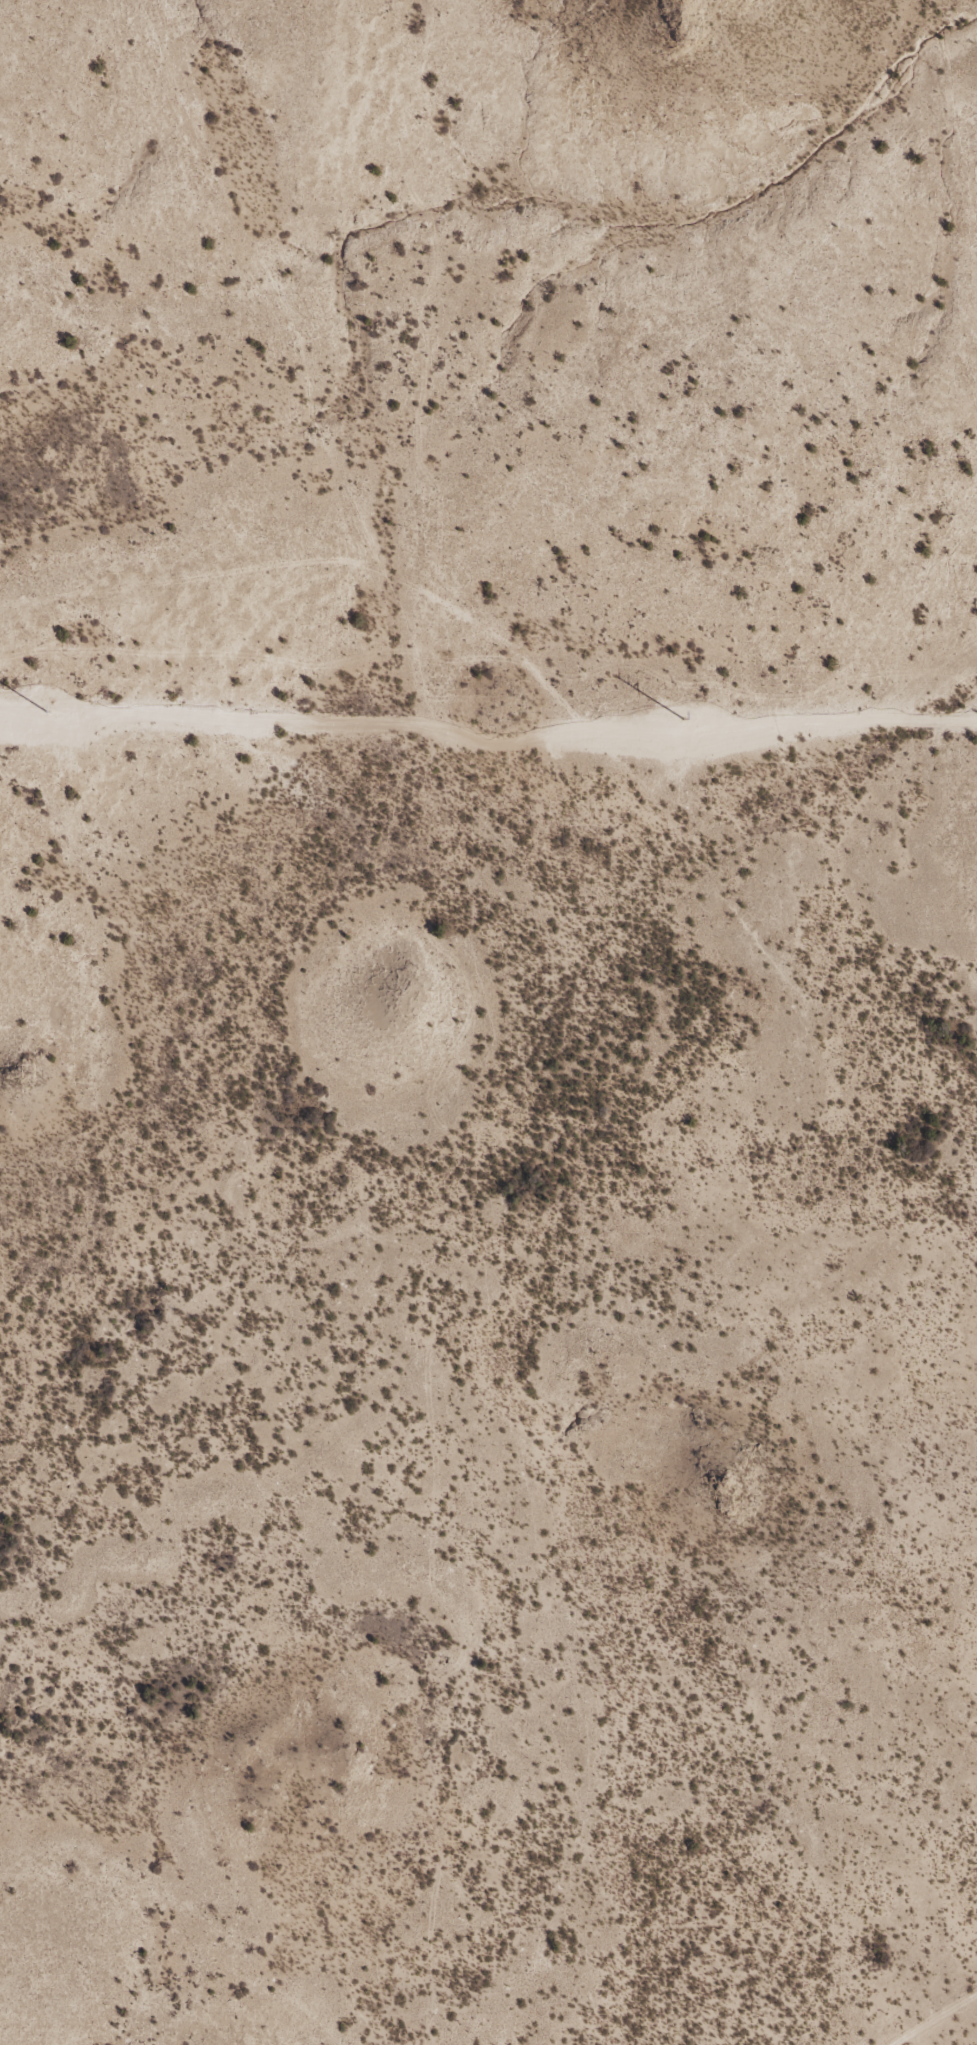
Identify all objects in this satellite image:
power tower: (694, 722)
road: (924, 1995)

